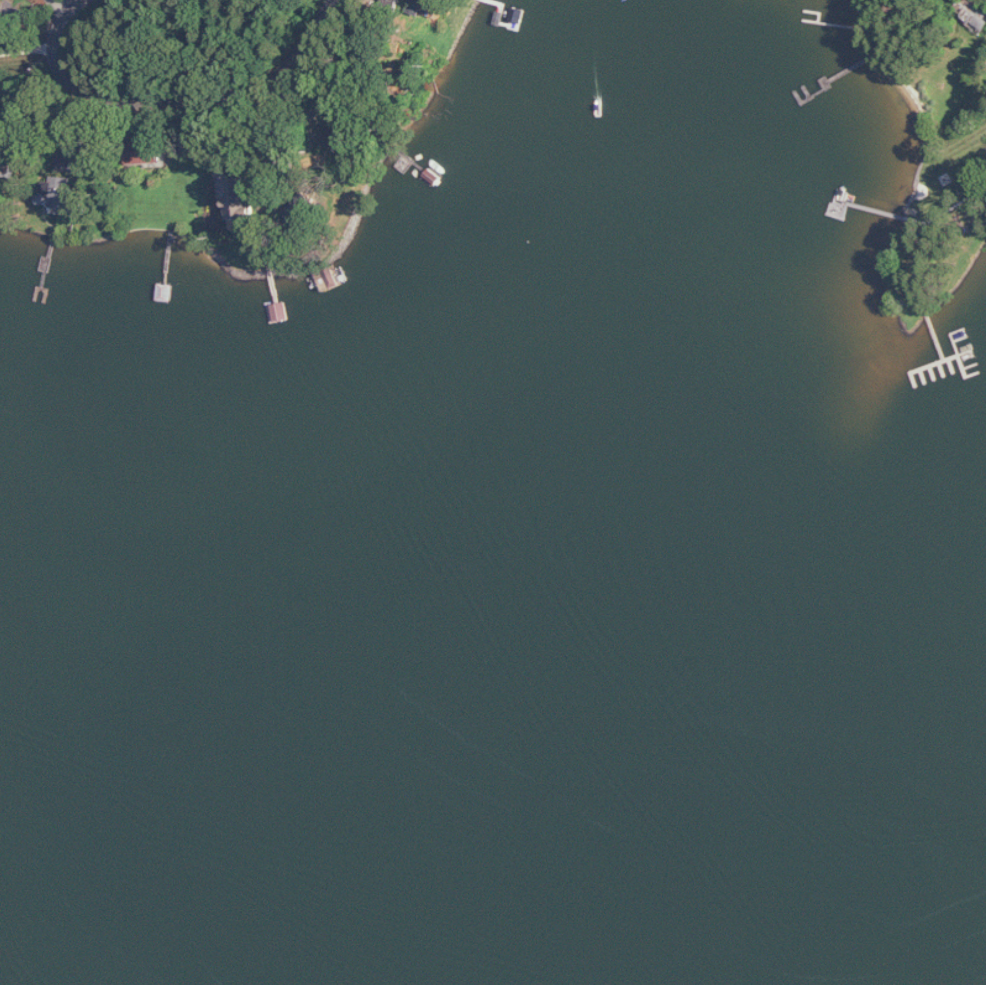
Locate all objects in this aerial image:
building: (974, 11)
road: (173, 99)
road: (261, 126)
building: (240, 184)
building: (66, 194)
building: (245, 209)

